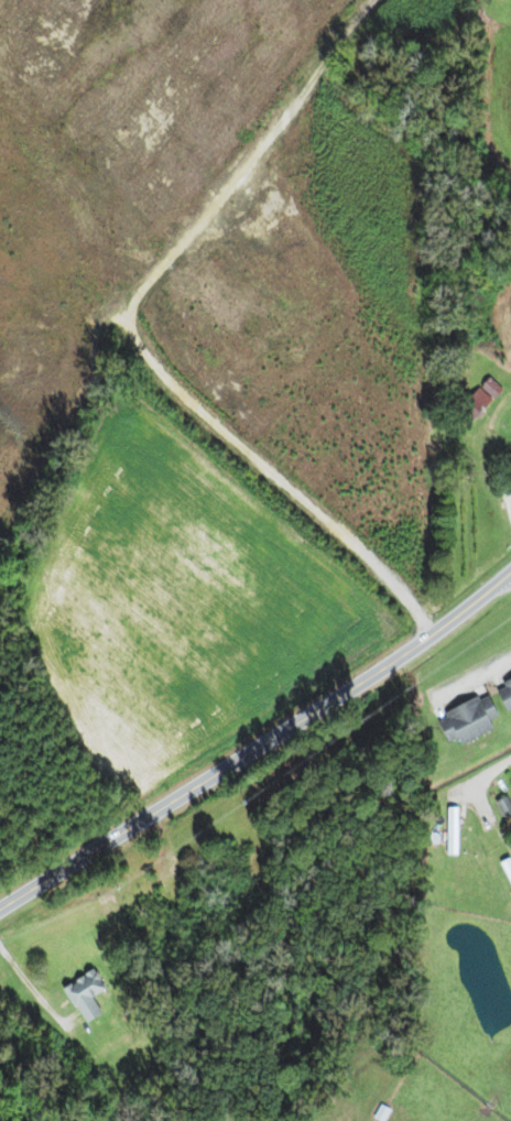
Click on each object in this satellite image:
building: (500, 0)
building: (474, 401)
building: (502, 692)
building: (463, 717)
road: (259, 743)
building: (448, 829)
building: (505, 871)
building: (78, 993)
road: (35, 997)

